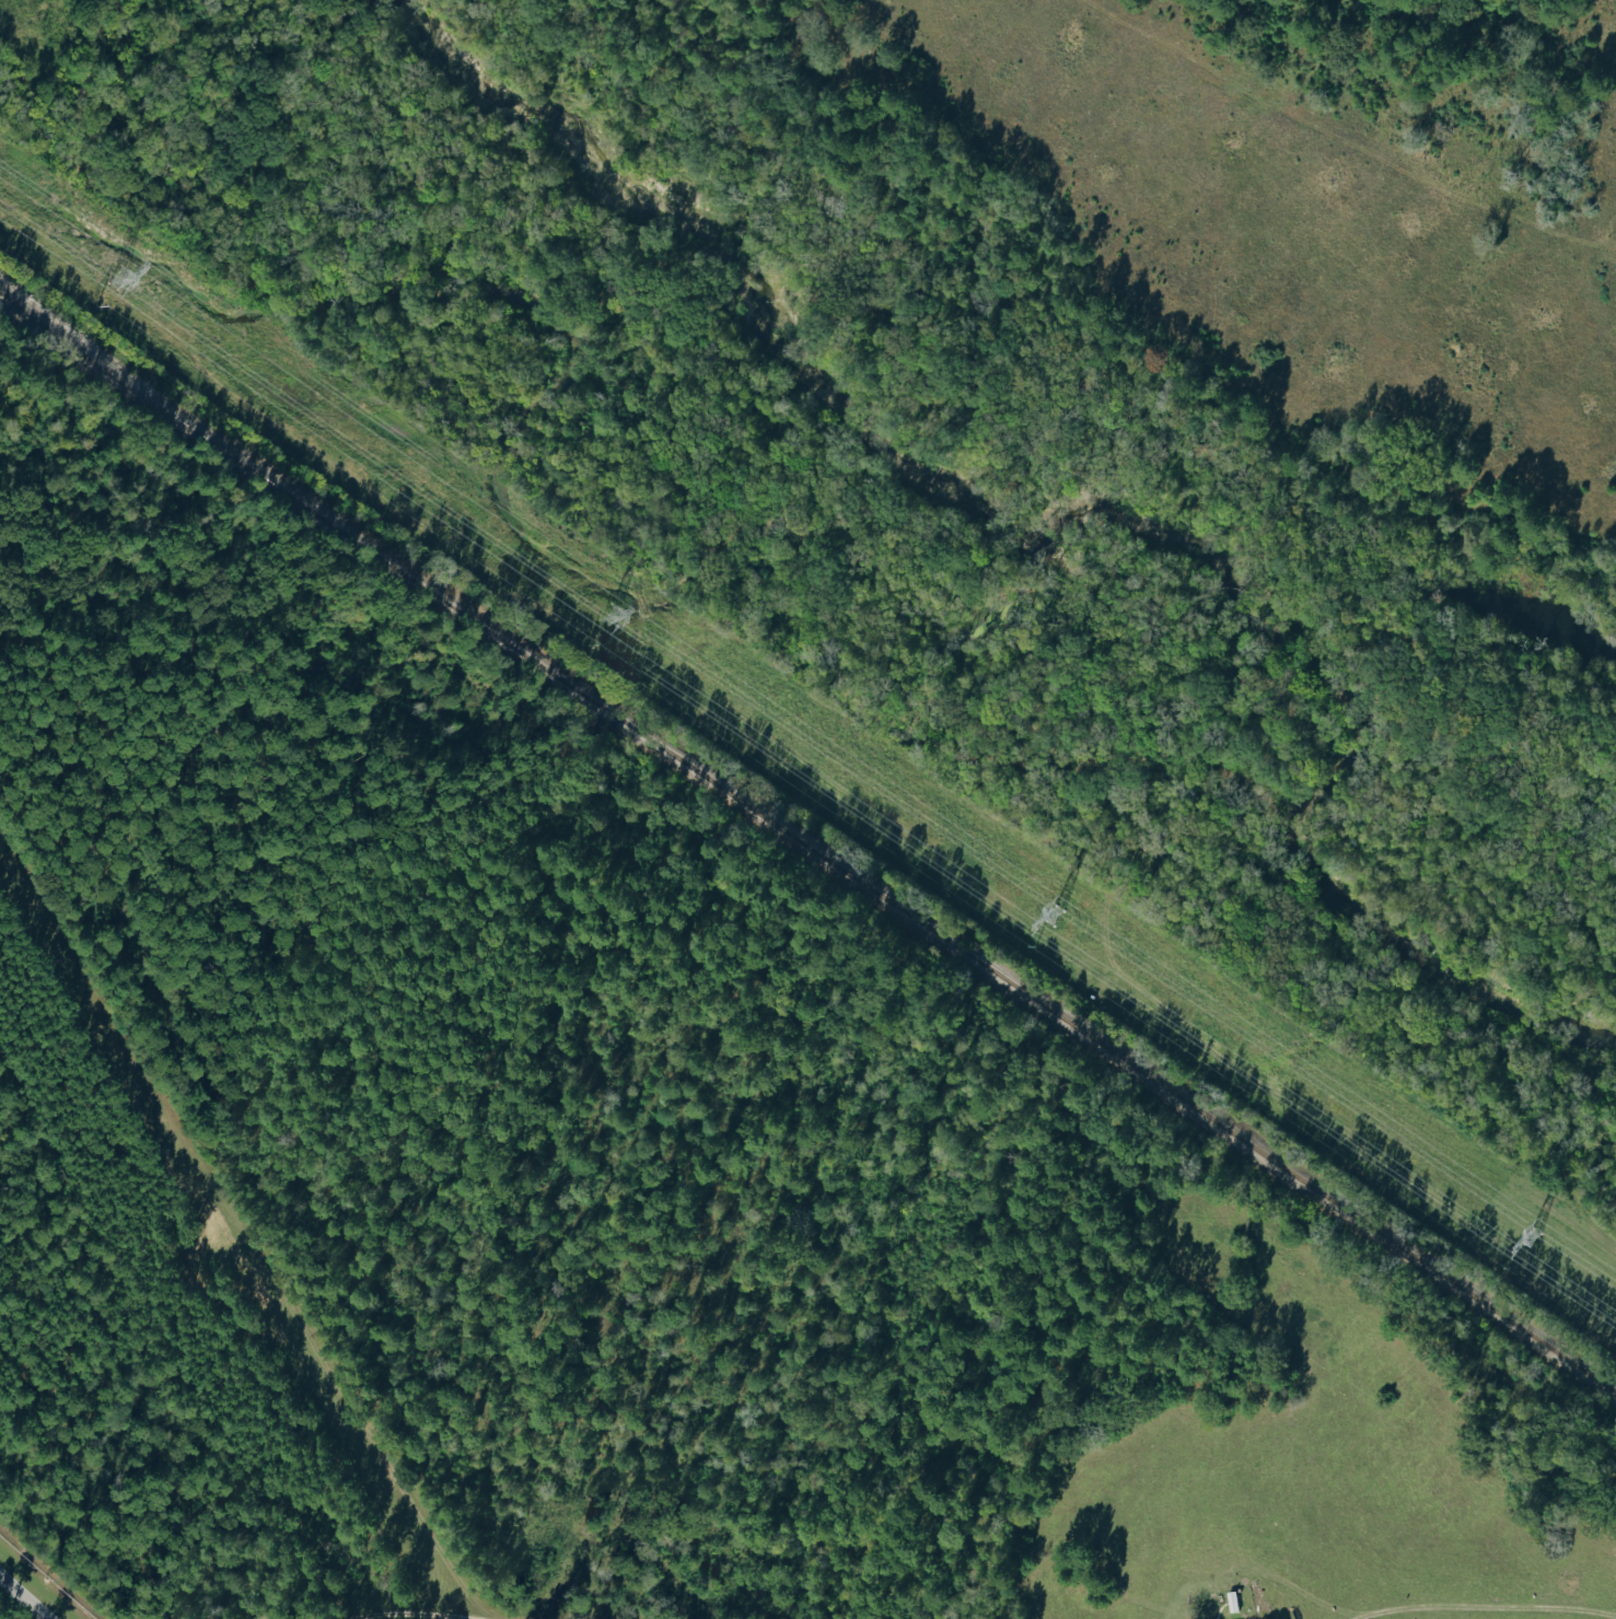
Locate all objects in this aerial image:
power tower: (113, 278)
river: (778, 364)
power tower: (605, 614)
railway: (806, 846)
power tower: (1053, 916)
power tower: (1531, 1238)
road: (24, 1598)
road: (1491, 1606)
road: (408, 1614)

